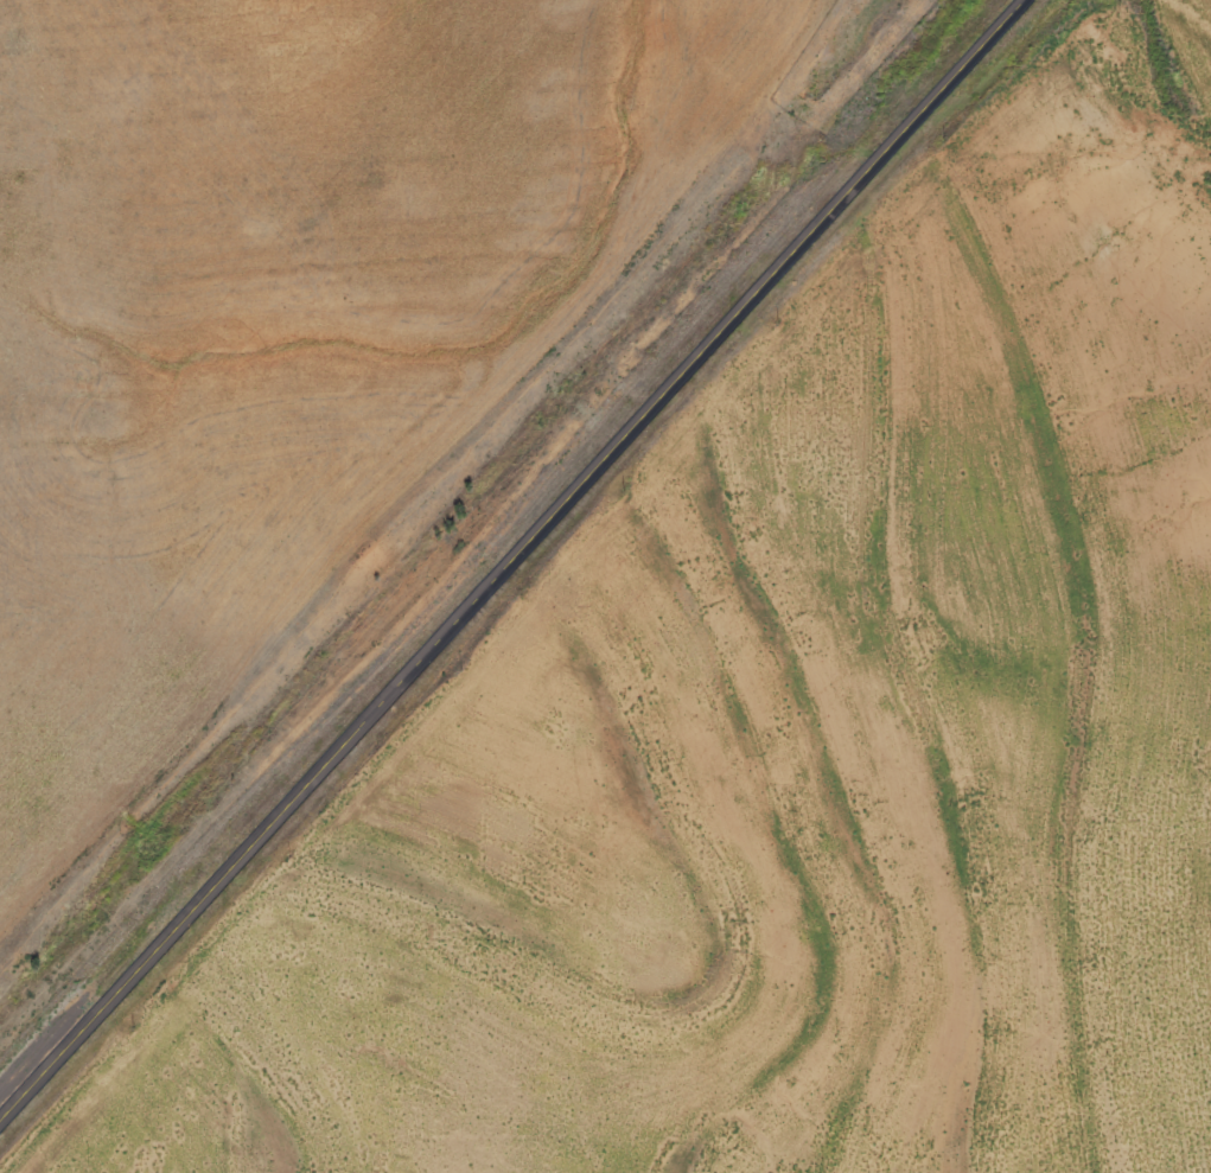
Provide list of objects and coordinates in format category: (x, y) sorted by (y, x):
railway: (466, 505)
road: (515, 563)
building: (1203, 1027)

